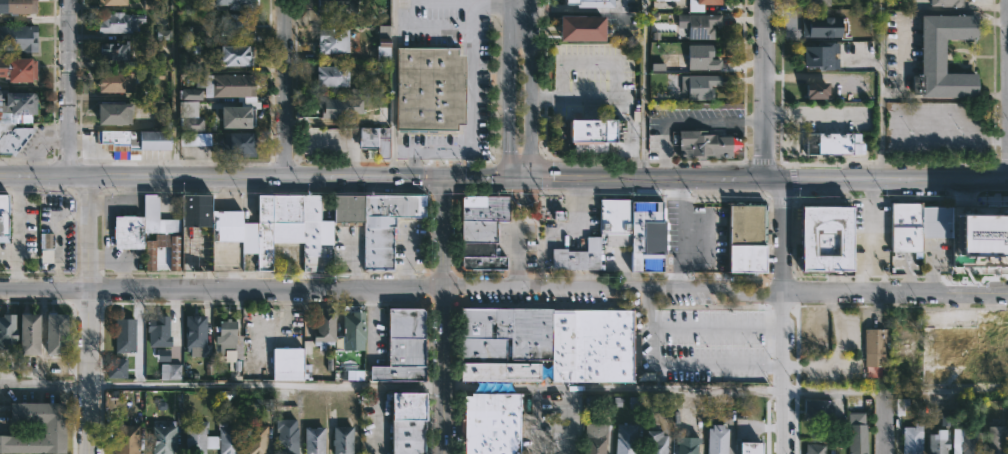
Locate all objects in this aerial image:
building: (666, 0)
building: (111, 2)
road: (489, 2)
building: (232, 3)
building: (587, 3)
building: (817, 3)
building: (946, 3)
building: (701, 4)
building: (335, 6)
building: (16, 7)
road: (580, 8)
building: (117, 23)
building: (233, 25)
building: (698, 25)
road: (430, 27)
building: (822, 27)
building: (579, 29)
building: (163, 35)
building: (15, 38)
building: (332, 41)
building: (383, 50)
road: (532, 50)
building: (113, 51)
building: (232, 55)
building: (818, 55)
building: (583, 57)
building: (701, 57)
building: (942, 59)
building: (17, 70)
building: (330, 76)
road: (467, 80)
road: (175, 81)
road: (643, 81)
road: (393, 82)
road: (883, 82)
building: (113, 83)
building: (586, 85)
building: (228, 86)
road: (618, 86)
building: (702, 86)
road: (287, 88)
road: (67, 89)
building: (430, 89)
road: (511, 89)
road: (763, 89)
building: (816, 90)
building: (191, 94)
building: (15, 107)
building: (350, 109)
building: (111, 115)
building: (235, 117)
road: (687, 122)
building: (192, 125)
building: (591, 131)
building: (138, 138)
road: (532, 140)
building: (373, 141)
building: (238, 144)
building: (834, 144)
building: (702, 145)
road: (402, 152)
road: (500, 153)
road: (547, 177)
road: (220, 178)
road: (427, 179)
traffic signals: (441, 179)
road: (475, 179)
traffic signals: (510, 179)
road: (521, 179)
traffic signals: (532, 179)
road: (647, 179)
road: (773, 179)
road: (895, 180)
road: (391, 193)
building: (484, 209)
building: (559, 216)
building: (615, 224)
building: (916, 225)
building: (3, 229)
building: (261, 229)
building: (479, 231)
building: (748, 236)
road: (870, 236)
building: (990, 238)
building: (809, 244)
building: (46, 247)
building: (480, 257)
building: (590, 257)
road: (614, 285)
road: (221, 289)
road: (896, 292)
road: (88, 316)
road: (442, 316)
road: (783, 316)
building: (810, 324)
building: (325, 327)
road: (716, 327)
building: (907, 328)
building: (157, 331)
building: (353, 331)
building: (123, 333)
building: (27, 334)
building: (7, 335)
building: (54, 335)
building: (506, 335)
building: (194, 337)
building: (874, 340)
building: (229, 344)
parking lot: (698, 344)
building: (591, 346)
building: (402, 347)
building: (974, 349)
building: (163, 355)
building: (290, 361)
road: (679, 365)
building: (115, 367)
building: (169, 371)
building: (500, 372)
road: (221, 385)
road: (612, 388)
road: (895, 391)
building: (901, 406)
building: (817, 408)
road: (534, 421)
road: (568, 421)
building: (406, 422)
building: (489, 423)
building: (52, 430)
building: (286, 434)
building: (858, 434)
building: (162, 437)
building: (208, 437)
building: (717, 437)
building: (594, 438)
building: (626, 438)
building: (125, 439)
building: (255, 439)
building: (341, 439)
building: (911, 439)
building: (994, 439)
building: (313, 440)
building: (970, 441)
building: (656, 443)
building: (937, 444)
building: (688, 446)
building: (750, 448)
building: (814, 448)

